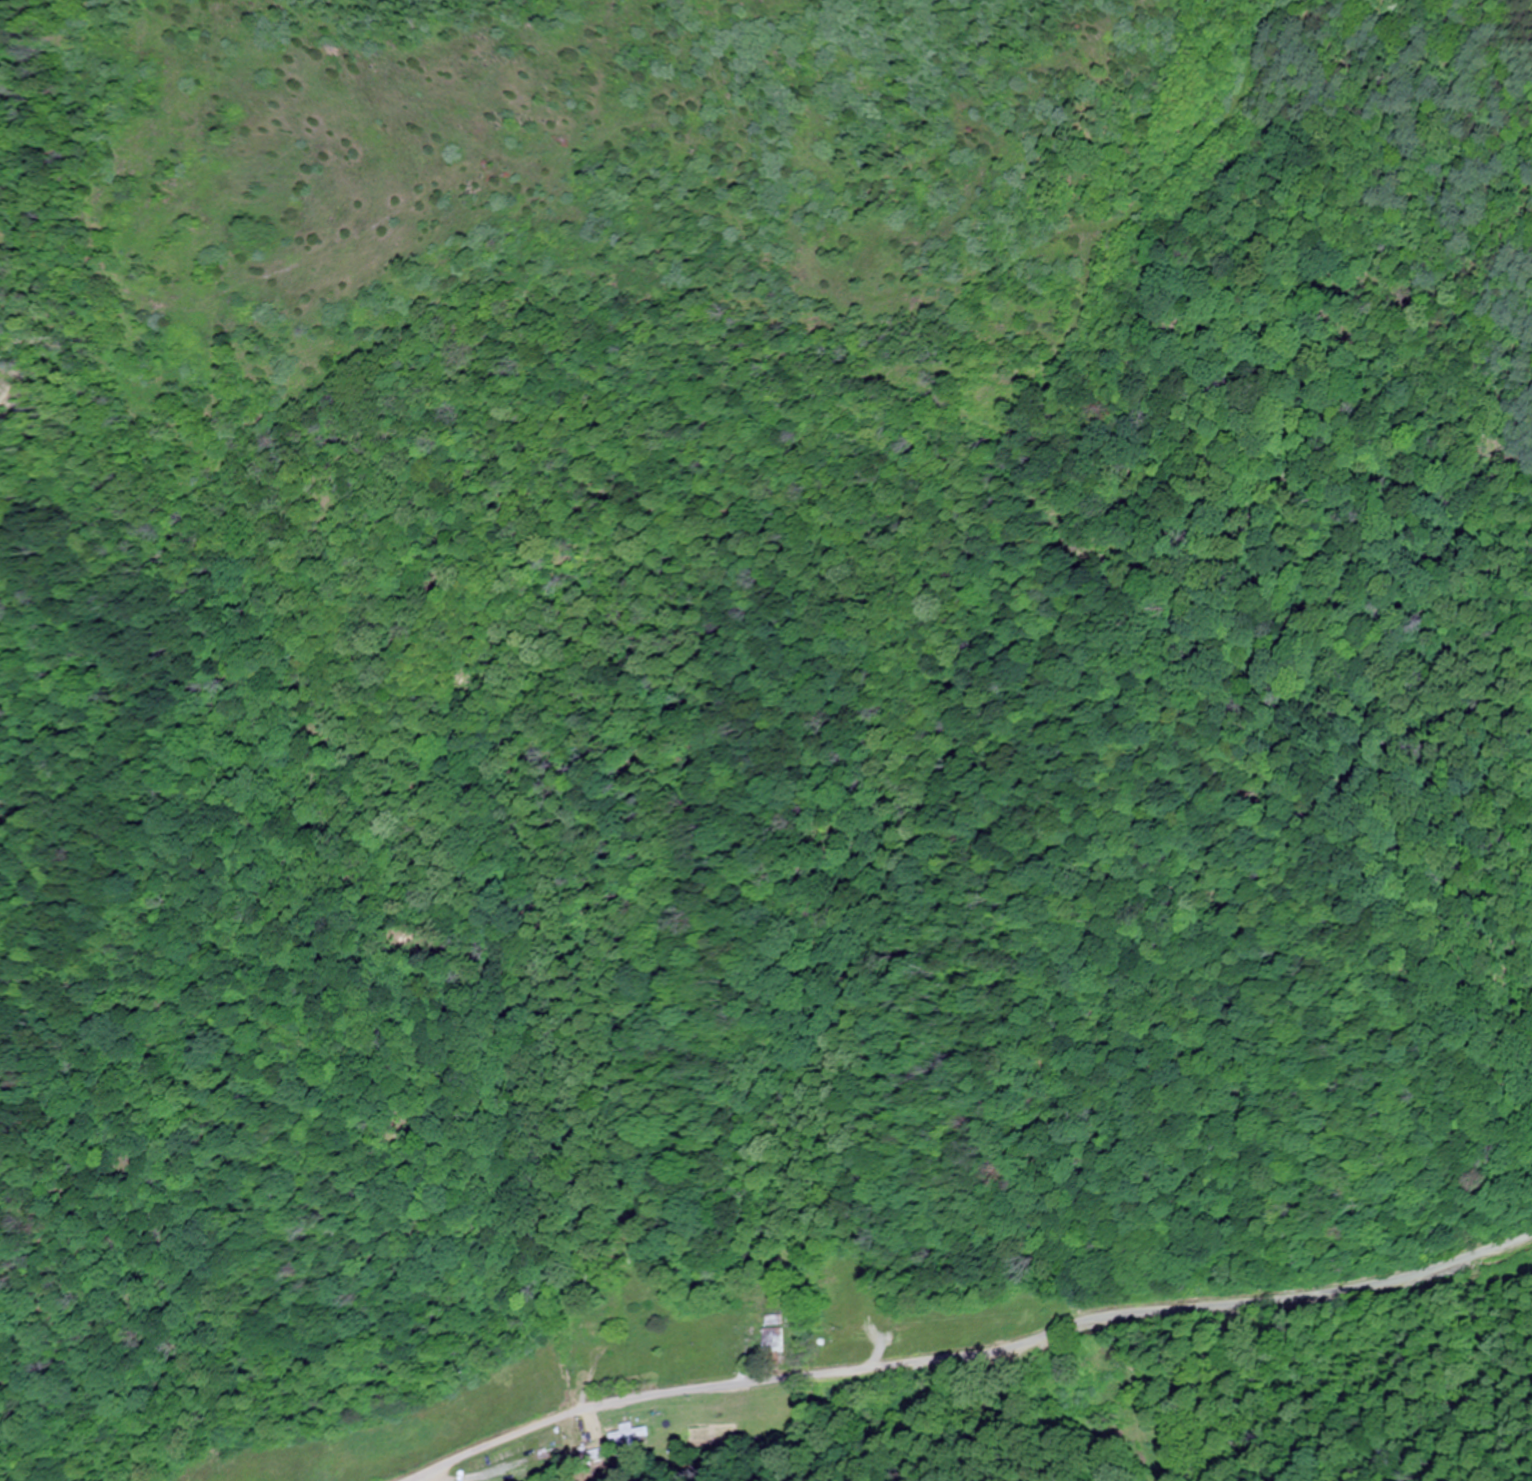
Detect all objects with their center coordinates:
building: (907, 1317)
building: (590, 1326)
building: (772, 1334)
road: (974, 1360)

